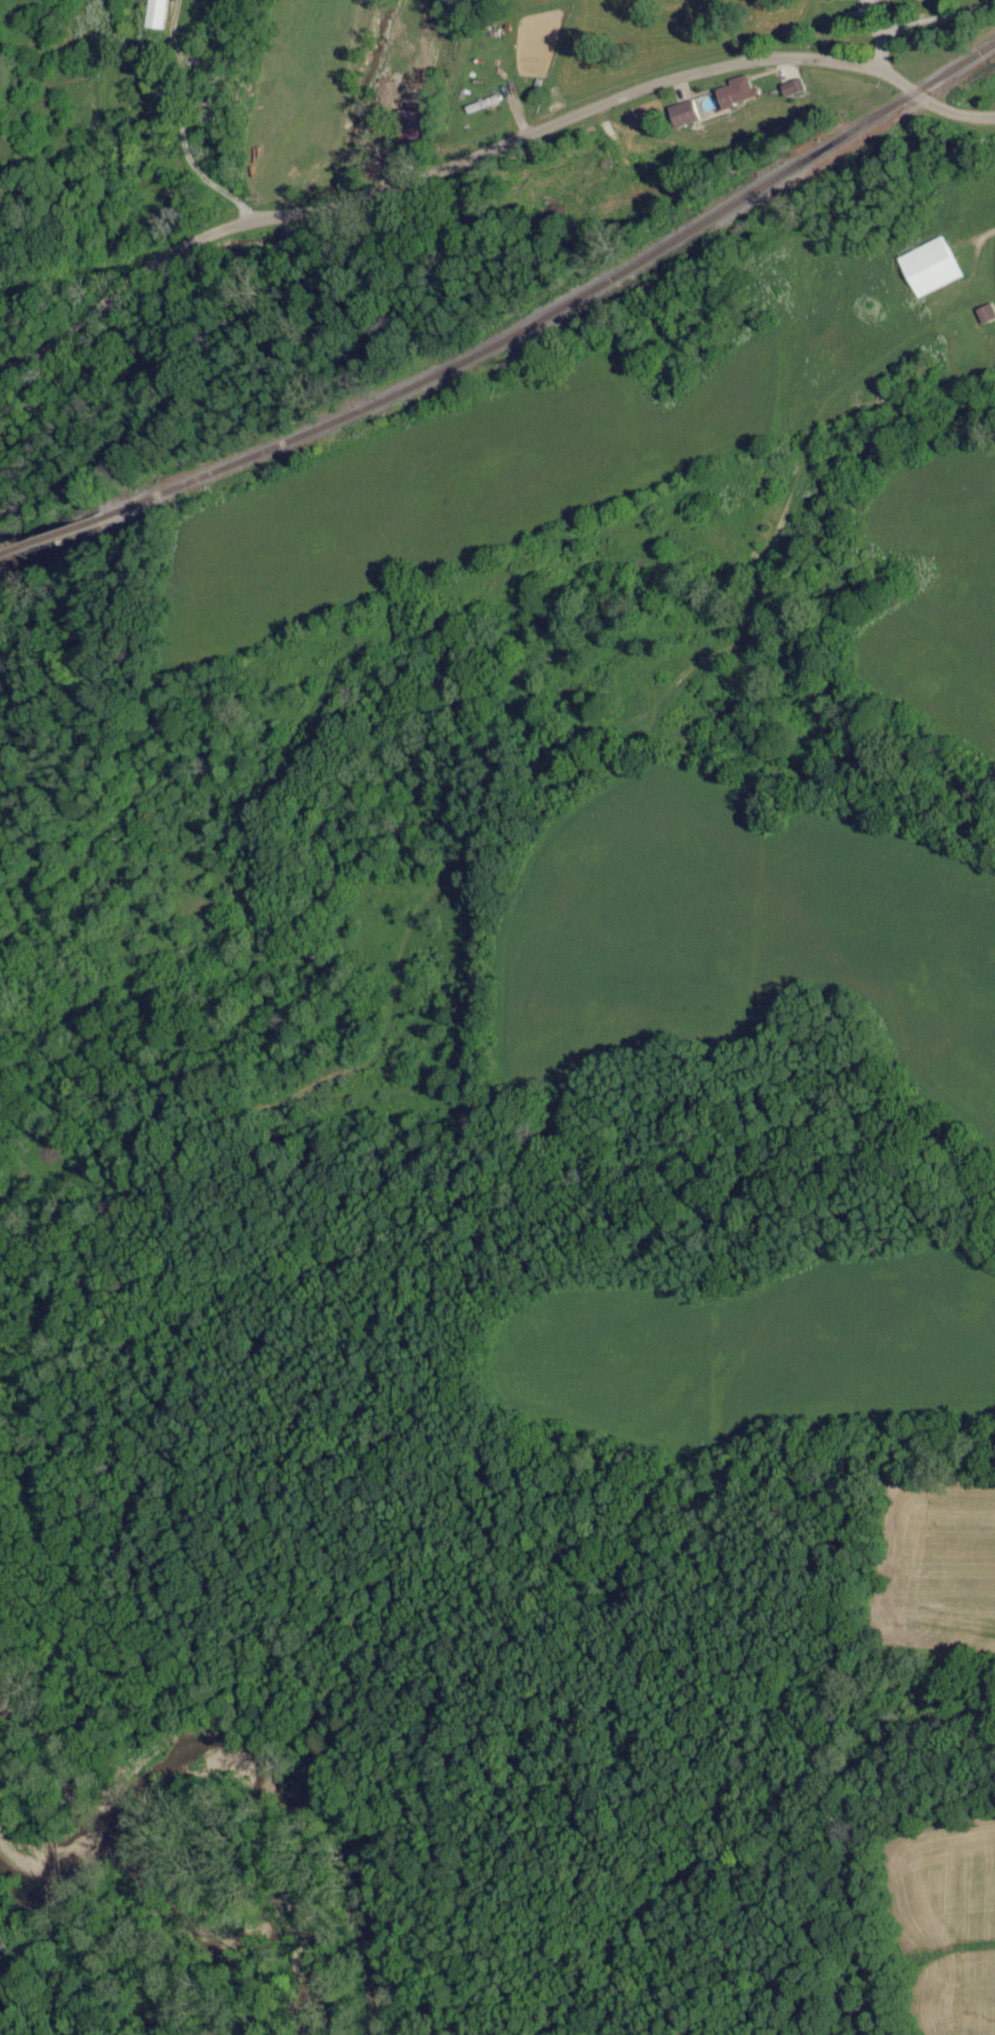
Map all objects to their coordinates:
building: (155, 14)
building: (790, 88)
building: (733, 92)
building: (680, 114)
building: (407, 126)
road: (484, 150)
building: (927, 268)
railway: (563, 307)
railway: (51, 538)

